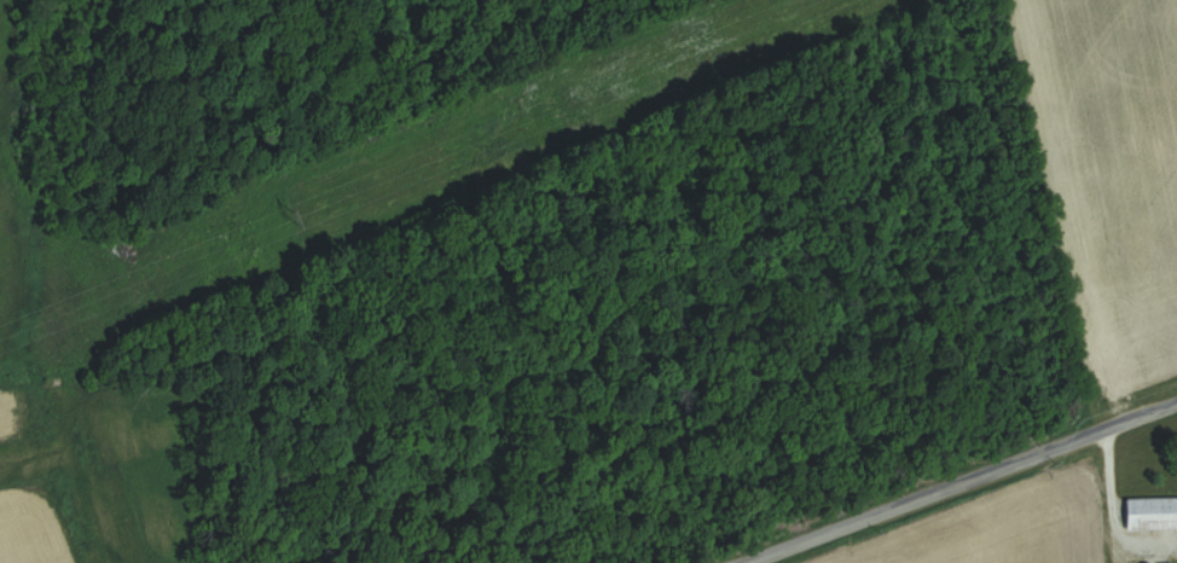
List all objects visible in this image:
road: (941, 475)
road: (1103, 480)
building: (1152, 512)

